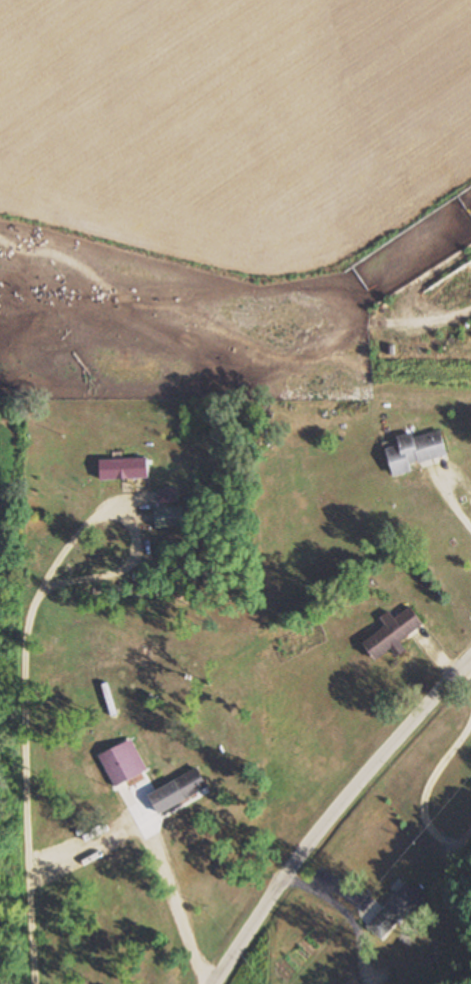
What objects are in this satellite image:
building: (451, 291)
building: (418, 451)
building: (125, 468)
road: (454, 503)
building: (169, 518)
road: (133, 527)
building: (394, 633)
road: (465, 675)
building: (123, 763)
road: (25, 782)
building: (191, 783)
road: (426, 794)
road: (336, 815)
building: (395, 911)

